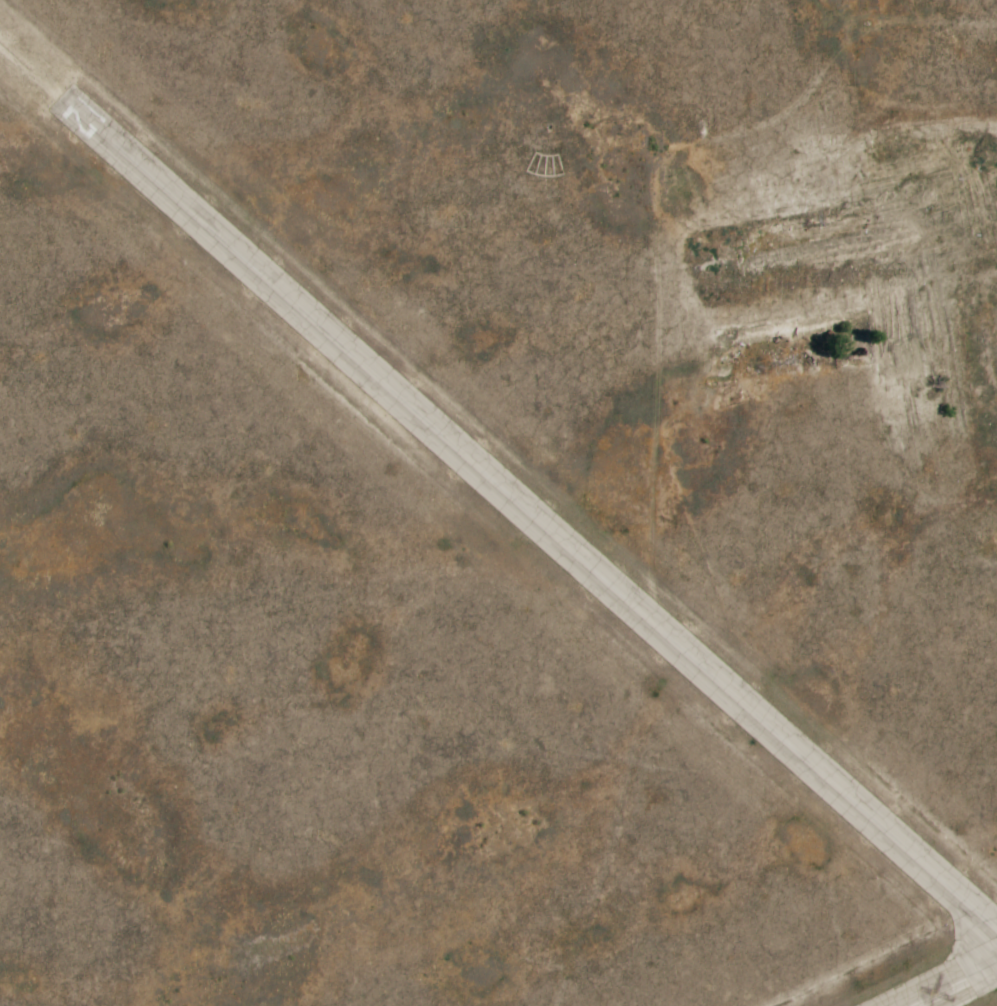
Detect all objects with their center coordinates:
airport runway: (529, 513)

